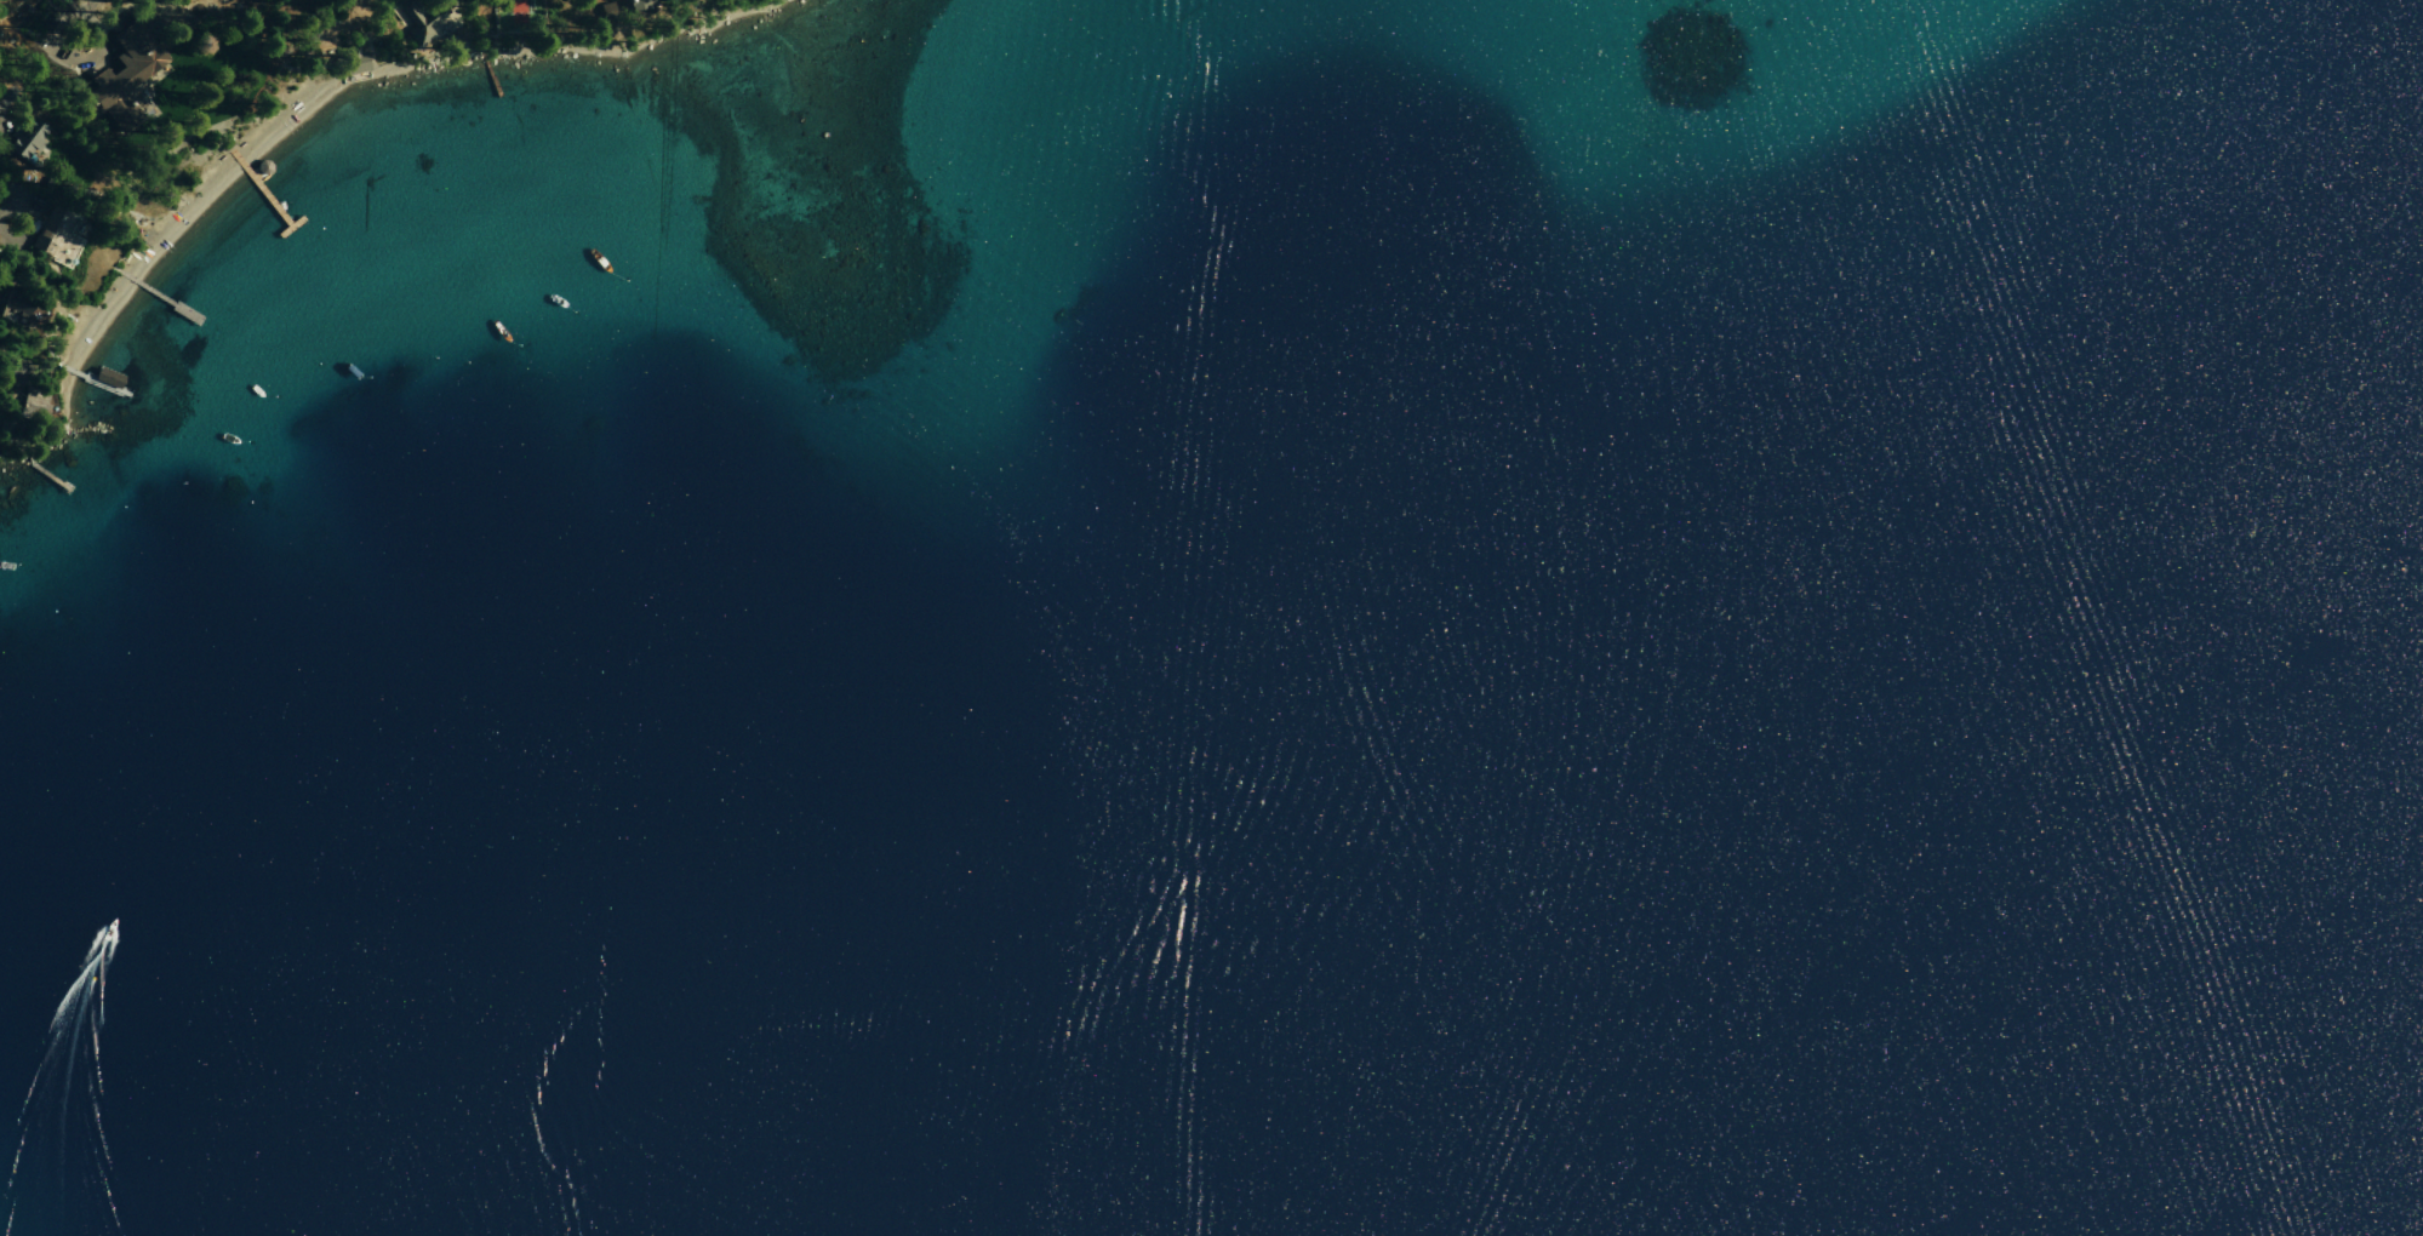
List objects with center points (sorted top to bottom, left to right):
building: (641, 4)
park: (514, 12)
building: (427, 18)
road: (32, 45)
building: (353, 63)
building: (122, 67)
pier: (488, 69)
building: (25, 137)
road: (663, 153)
pier: (265, 193)
building: (55, 231)
pier: (162, 296)
building: (12, 304)
pier: (95, 377)
building: (33, 400)
pier: (46, 473)

